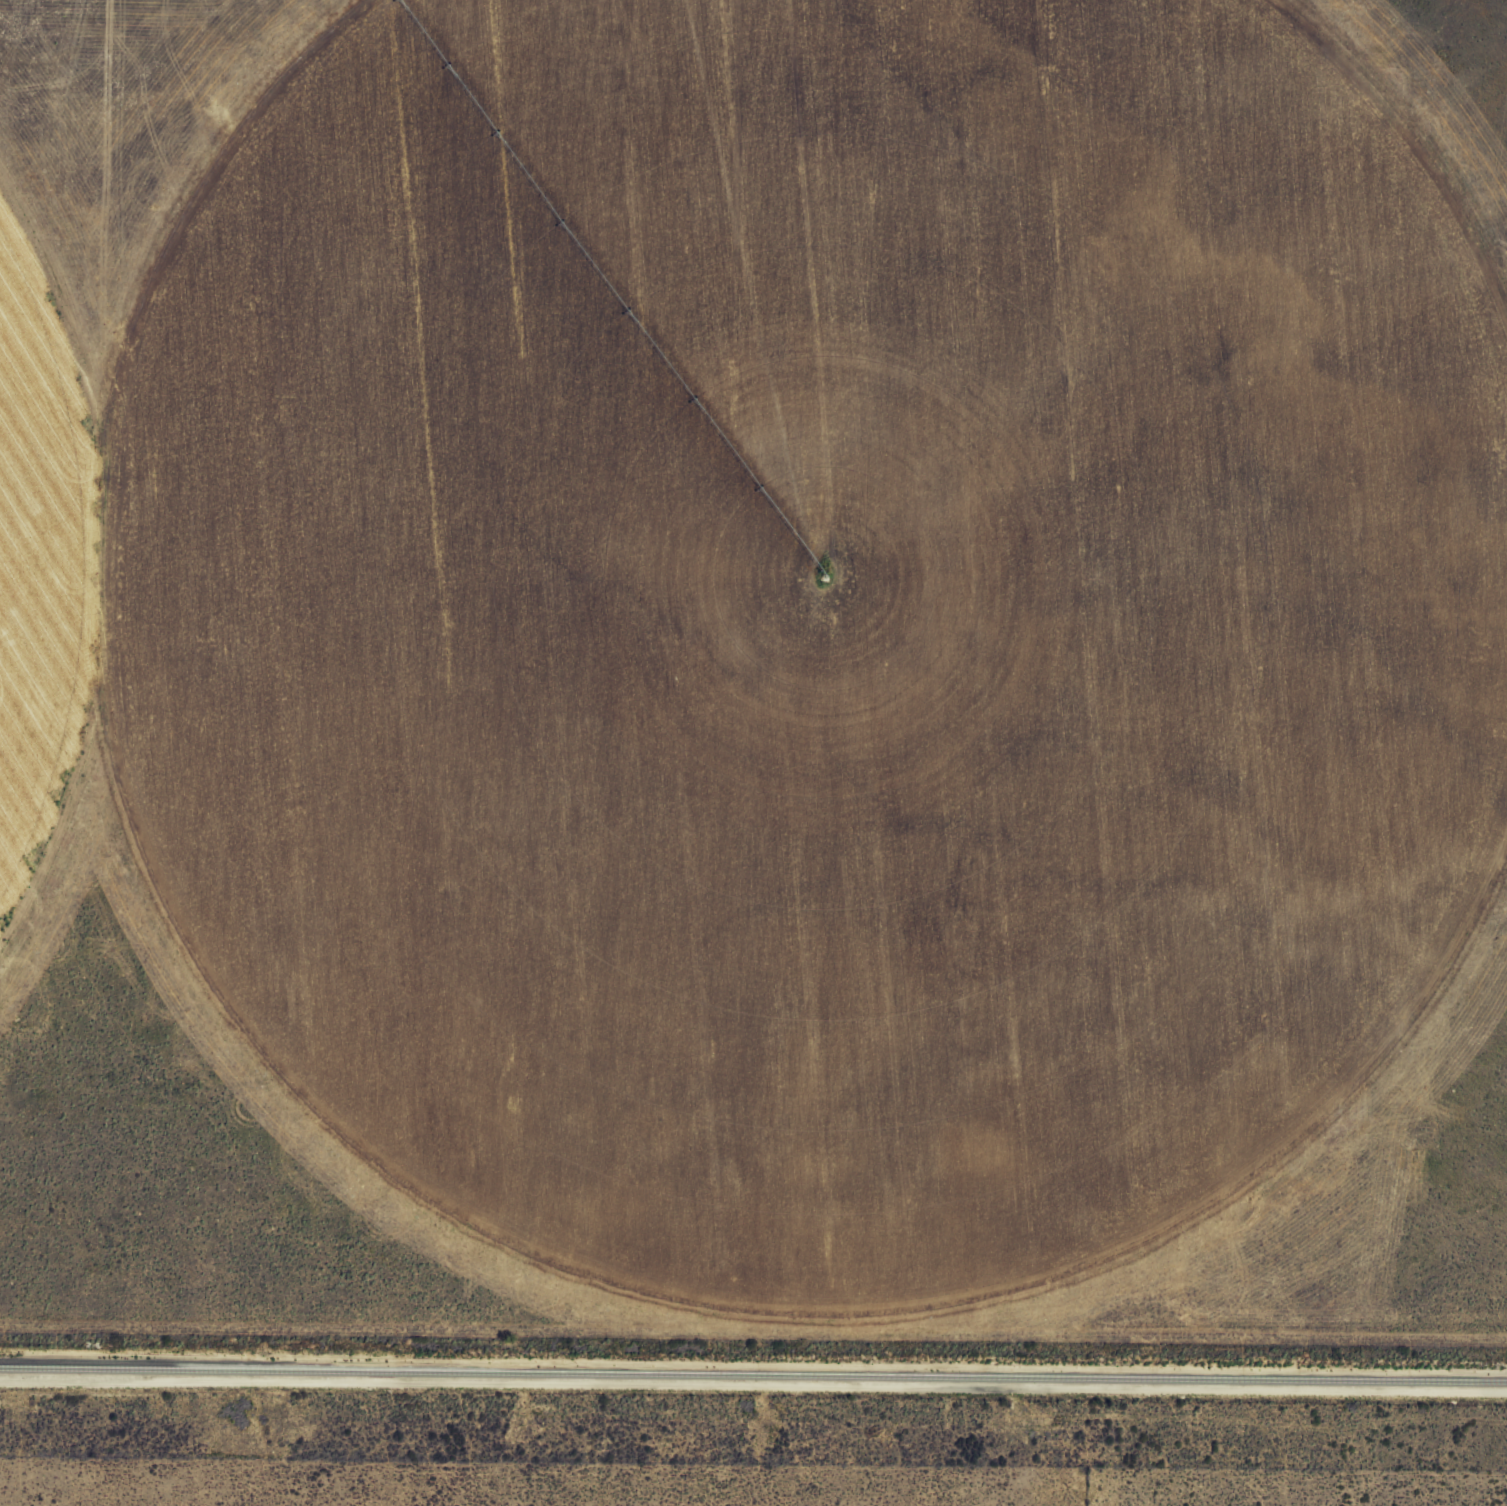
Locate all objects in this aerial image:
railway: (753, 1376)

